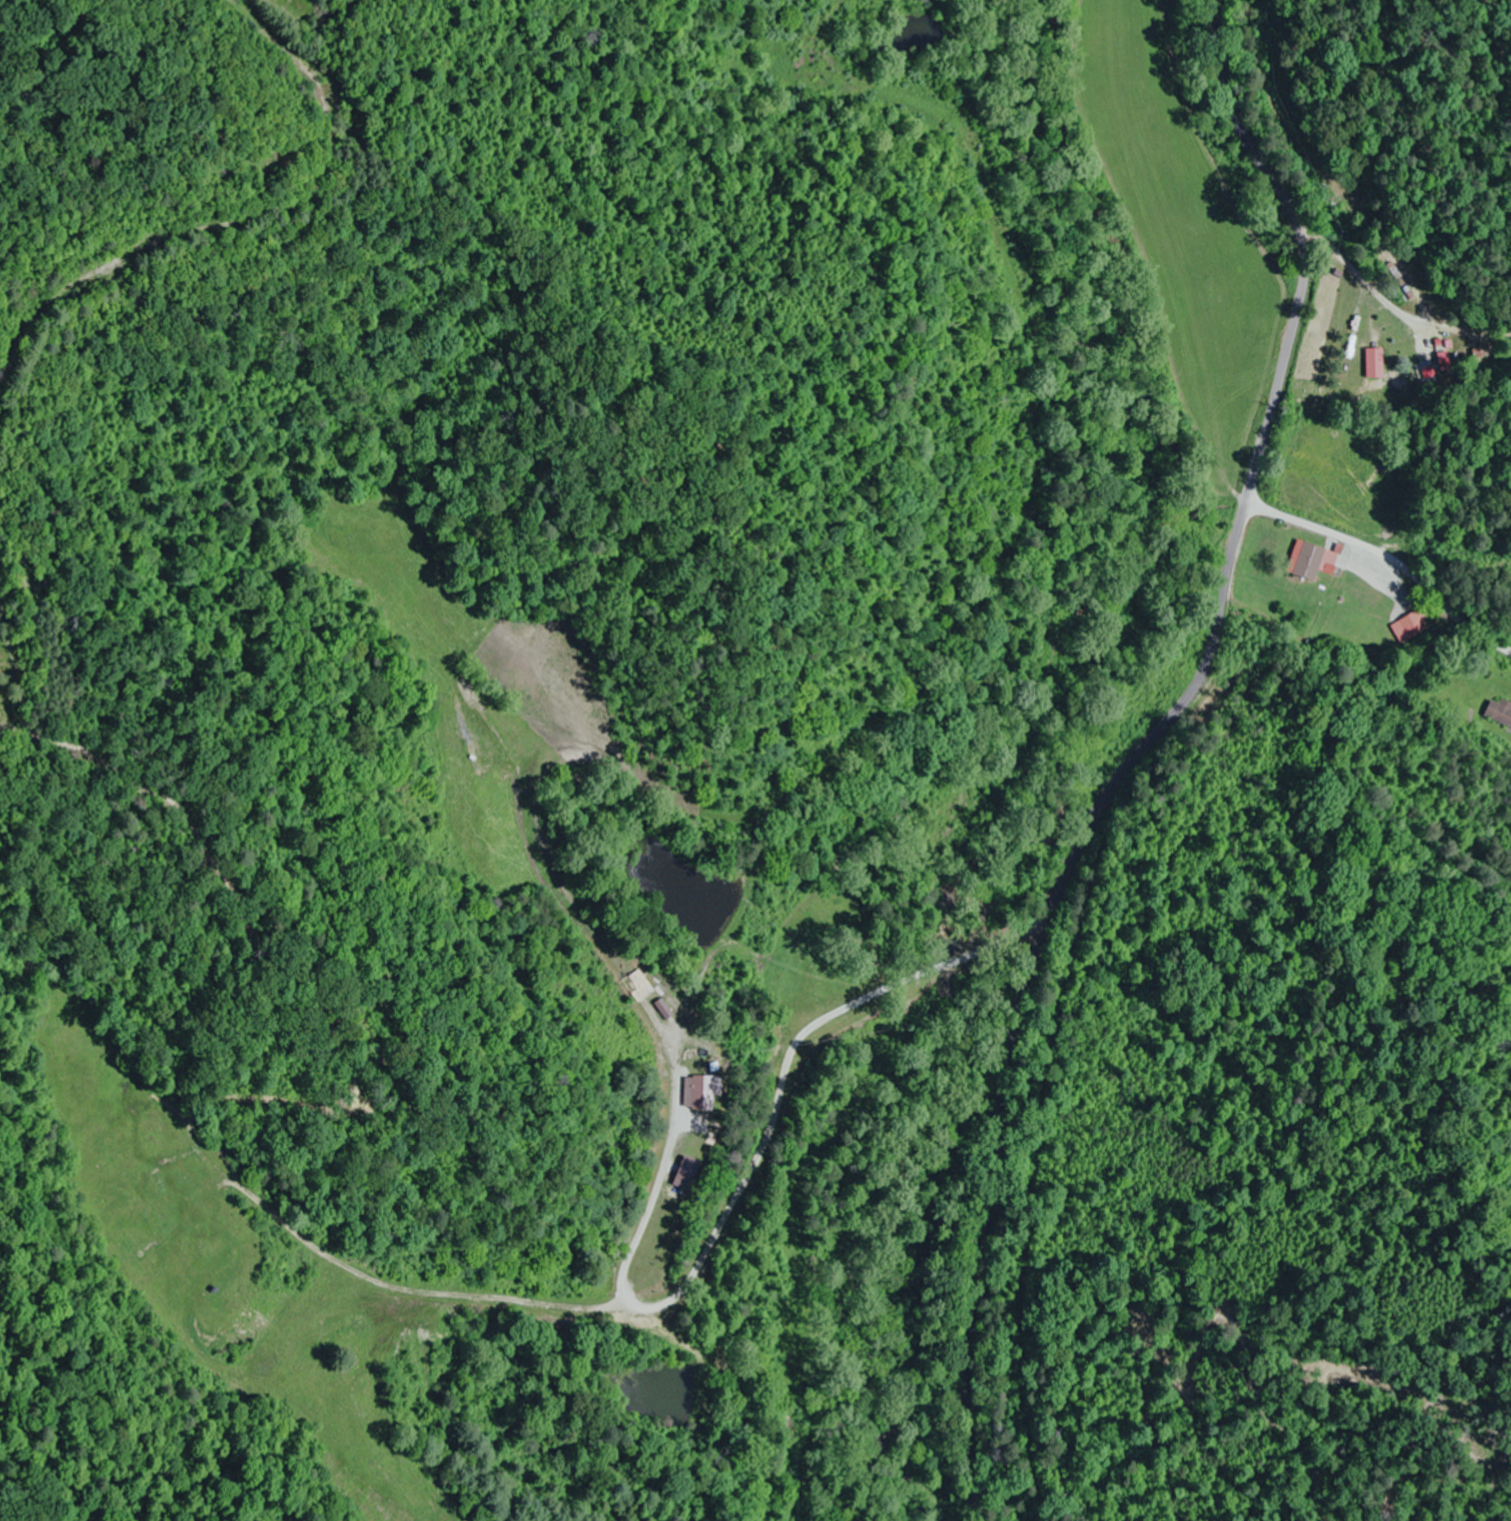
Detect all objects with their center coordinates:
building: (1434, 354)
building: (1473, 355)
road: (1389, 556)
building: (1312, 559)
building: (1408, 625)
road: (1139, 751)
building: (703, 1093)

